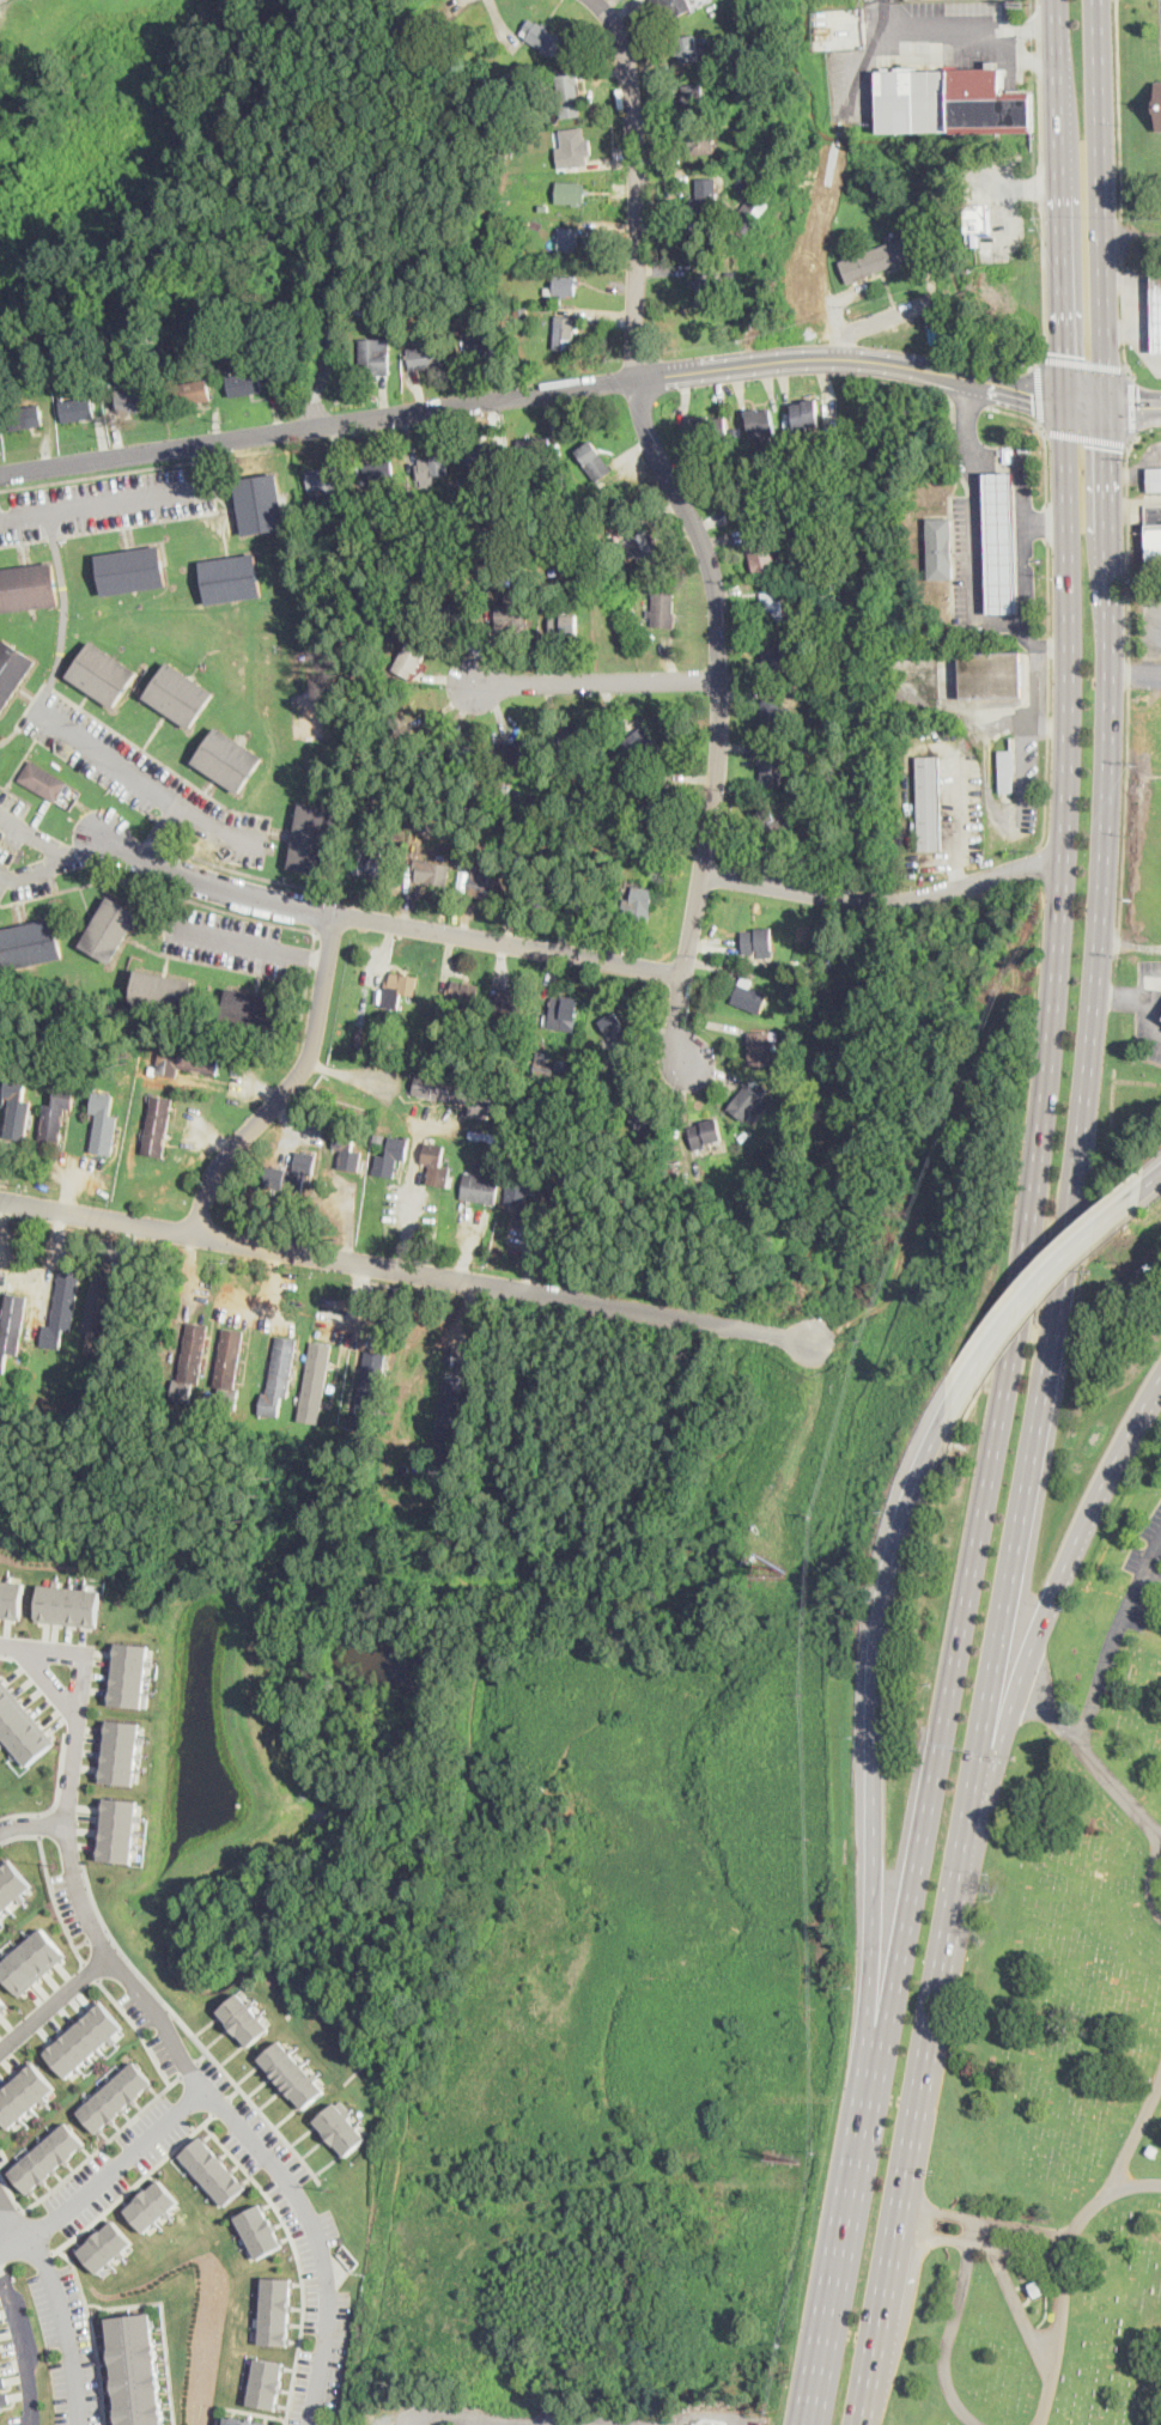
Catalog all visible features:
road: (450, 5)
road: (1038, 6)
building: (671, 7)
road: (934, 23)
road: (1026, 26)
building: (542, 37)
road: (1039, 45)
building: (687, 48)
building: (511, 78)
building: (570, 95)
building: (693, 97)
building: (950, 103)
building: (1157, 104)
road: (1117, 110)
road: (1040, 123)
building: (701, 139)
building: (575, 146)
road: (637, 183)
road: (1041, 189)
building: (570, 192)
building: (706, 195)
road: (1101, 202)
building: (542, 205)
building: (977, 218)
building: (747, 219)
road: (1122, 238)
road: (1131, 241)
building: (570, 242)
building: (881, 259)
building: (730, 273)
road: (1132, 275)
building: (563, 285)
building: (707, 288)
road: (1045, 294)
building: (558, 300)
building: (498, 309)
building: (521, 311)
building: (1156, 312)
gas station: (1156, 312)
road: (876, 318)
road: (1125, 320)
road: (1117, 327)
road: (1131, 328)
building: (565, 333)
building: (485, 344)
traffic signals: (1063, 352)
building: (428, 355)
building: (375, 357)
road: (779, 361)
road: (1084, 361)
road: (816, 376)
building: (280, 378)
building: (244, 383)
road: (992, 389)
building: (193, 391)
road: (1038, 393)
road: (643, 394)
building: (134, 400)
road: (969, 400)
traffic signals: (1033, 400)
road: (1087, 403)
road: (1133, 405)
road: (1133, 405)
traffic signals: (1138, 405)
building: (77, 409)
building: (807, 414)
road: (390, 415)
building: (25, 417)
road: (439, 421)
building: (761, 423)
building: (711, 427)
road: (1045, 437)
road: (1086, 437)
traffic signals: (1107, 448)
building: (536, 450)
building: (482, 458)
building: (594, 461)
road: (69, 463)
road: (200, 466)
building: (432, 468)
road: (127, 472)
building: (378, 472)
building: (330, 478)
road: (1023, 479)
building: (606, 480)
building: (1154, 480)
building: (490, 481)
building: (454, 484)
building: (316, 496)
building: (740, 500)
parking lot: (104, 503)
building: (261, 504)
road: (101, 505)
building: (417, 521)
road: (1048, 523)
building: (423, 543)
building: (1001, 543)
gas station: (1001, 543)
building: (1154, 545)
building: (643, 548)
building: (940, 548)
road: (973, 552)
building: (762, 555)
building: (132, 571)
road: (1027, 576)
building: (231, 579)
building: (29, 588)
building: (773, 607)
building: (513, 610)
building: (663, 610)
road: (65, 613)
building: (452, 614)
building: (565, 625)
parking lot: (1153, 640)
building: (412, 656)
building: (780, 657)
building: (12, 670)
building: (102, 674)
building: (987, 674)
road: (1135, 674)
road: (1130, 679)
road: (598, 680)
building: (180, 694)
road: (1048, 695)
building: (411, 712)
road: (719, 713)
building: (776, 715)
building: (575, 740)
building: (642, 744)
building: (518, 752)
building: (467, 755)
building: (227, 759)
building: (529, 767)
building: (772, 768)
building: (1007, 771)
parking lot: (141, 776)
building: (43, 780)
road: (145, 785)
building: (559, 786)
building: (517, 792)
building: (502, 794)
building: (659, 797)
building: (929, 803)
road: (959, 821)
building: (646, 825)
building: (772, 826)
road: (31, 833)
road: (162, 834)
building: (315, 839)
road: (157, 841)
road: (89, 846)
parking lot: (29, 851)
building: (648, 855)
road: (62, 859)
building: (377, 862)
building: (431, 871)
road: (247, 874)
road: (28, 875)
building: (463, 880)
building: (486, 881)
building: (535, 893)
road: (885, 900)
building: (586, 902)
building: (638, 904)
road: (214, 908)
road: (321, 913)
road: (389, 922)
building: (109, 929)
parking lot: (224, 938)
road: (229, 940)
building: (759, 943)
building: (29, 944)
road: (308, 956)
building: (400, 989)
building: (162, 992)
building: (463, 992)
building: (749, 996)
road: (1139, 999)
building: (512, 1007)
building: (253, 1010)
building: (563, 1014)
building: (615, 1028)
building: (360, 1037)
building: (439, 1038)
building: (761, 1049)
building: (791, 1057)
building: (190, 1062)
building: (542, 1063)
building: (153, 1069)
building: (560, 1075)
building: (585, 1075)
road: (290, 1083)
road: (1047, 1086)
building: (622, 1087)
building: (452, 1093)
building: (749, 1102)
building: (17, 1108)
building: (637, 1113)
building: (56, 1116)
building: (104, 1124)
building: (158, 1126)
building: (706, 1134)
building: (743, 1135)
building: (379, 1136)
road: (1081, 1139)
building: (347, 1148)
building: (391, 1157)
building: (436, 1163)
building: (488, 1167)
building: (292, 1174)
building: (522, 1179)
road: (413, 1180)
road: (1151, 1183)
building: (671, 1184)
building: (572, 1186)
building: (480, 1189)
road: (535, 1246)
road: (23, 1269)
road: (406, 1269)
road: (187, 1271)
road: (1037, 1288)
road: (357, 1290)
road: (269, 1291)
building: (62, 1309)
building: (98, 1314)
road: (464, 1320)
building: (12, 1327)
building: (190, 1362)
building: (229, 1369)
building: (279, 1376)
building: (315, 1381)
building: (370, 1392)
building: (446, 1432)
building: (310, 1444)
building: (395, 1478)
building: (412, 1485)
road: (1151, 1552)
road: (1151, 1573)
parking lot: (1142, 1575)
building: (10, 1597)
building: (66, 1603)
road: (1045, 1616)
road: (84, 1653)
building: (129, 1673)
road: (1093, 1713)
road: (1052, 1714)
building: (22, 1726)
building: (122, 1751)
road: (875, 1774)
road: (32, 1823)
building: (120, 1828)
power tower: (54, 1865)
road: (72, 1866)
building: (13, 1884)
road: (1153, 1885)
road: (56, 1900)
building: (1, 1919)
road: (99, 1933)
road: (84, 1941)
building: (32, 1958)
road: (92, 1970)
road: (55, 2002)
building: (4, 2004)
building: (247, 2019)
road: (190, 2026)
road: (140, 2028)
building: (84, 2037)
park: (1063, 2040)
road: (197, 2062)
building: (294, 2077)
building: (23, 2092)
building: (115, 2097)
building: (341, 2127)
road: (103, 2143)
road: (912, 2145)
road: (5, 2157)
building: (45, 2157)
building: (213, 2169)
road: (108, 2172)
road: (135, 2183)
road: (1137, 2184)
power tower: (334, 2188)
road: (11, 2194)
building: (151, 2204)
road: (11, 2216)
road: (1071, 2226)
building: (259, 2229)
road: (317, 2239)
building: (103, 2245)
road: (297, 2259)
road: (2, 2267)
building: (1034, 2287)
road: (837, 2291)
road: (1064, 2305)
building: (275, 2309)
road: (62, 2326)
road: (1031, 2326)
road: (949, 2330)
road: (90, 2332)
road: (23, 2346)
building: (136, 2369)
building: (0, 2382)
building: (266, 2382)
road: (713, 2415)
parking lot: (547, 2417)
parking lot: (749, 2419)
road: (474, 2420)
building: (239, 2421)
road: (525, 2423)
road: (518, 2424)
road: (564, 2424)
road: (600, 2424)
building: (699, 2424)

